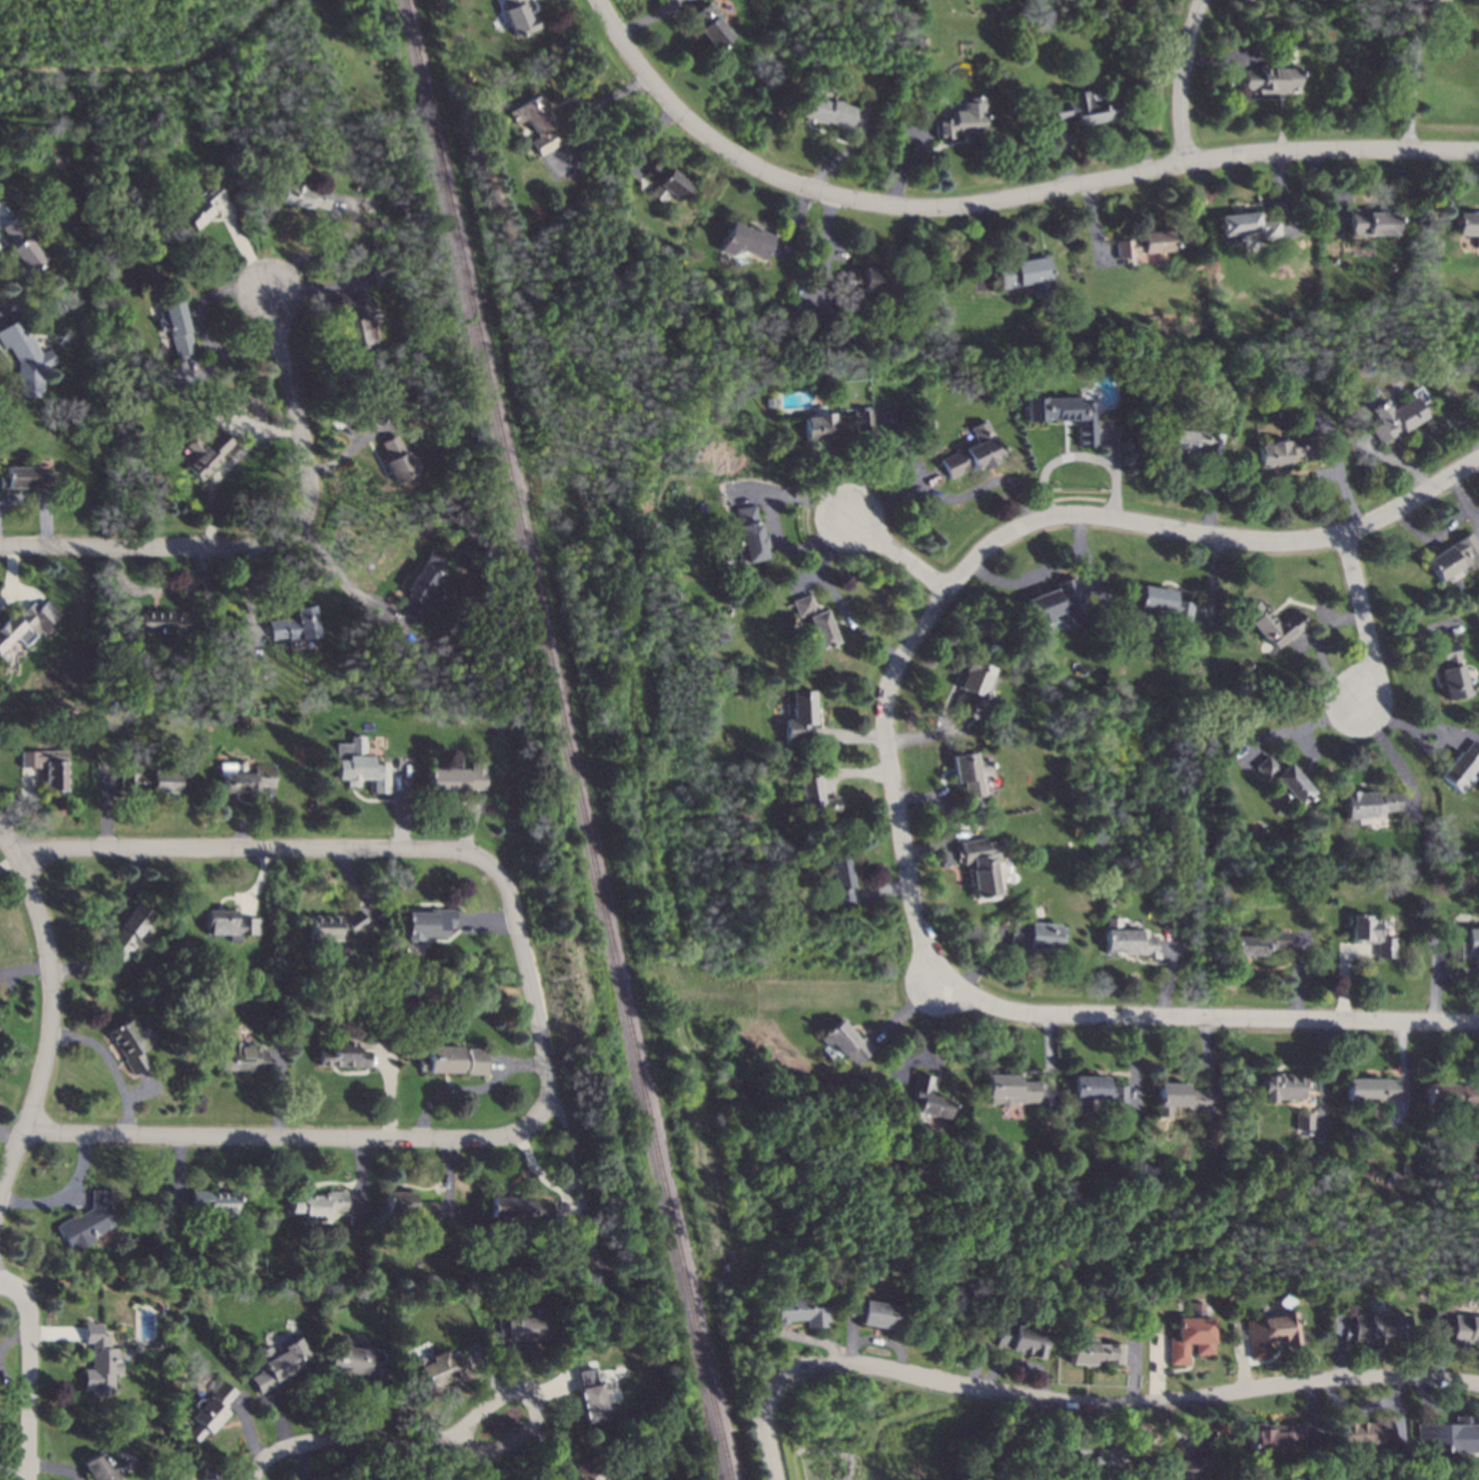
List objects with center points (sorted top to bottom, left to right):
building: (517, 16)
building: (709, 24)
road: (145, 68)
road: (1178, 79)
building: (1271, 79)
road: (1412, 79)
road: (598, 106)
building: (822, 107)
building: (1082, 108)
road: (680, 116)
building: (961, 118)
building: (535, 123)
road: (1138, 170)
building: (664, 181)
building: (304, 196)
building: (201, 203)
building: (1371, 222)
building: (1467, 225)
building: (1248, 228)
road: (345, 239)
building: (745, 240)
building: (1142, 243)
building: (22, 246)
building: (1026, 274)
building: (868, 280)
building: (360, 322)
building: (175, 325)
building: (25, 359)
building: (1064, 414)
building: (1396, 415)
building: (838, 422)
building: (1193, 440)
building: (1284, 451)
building: (972, 452)
road: (1078, 455)
building: (208, 456)
building: (402, 462)
road: (227, 468)
building: (26, 478)
road: (952, 501)
road: (772, 509)
road: (1206, 533)
building: (748, 534)
road: (273, 544)
building: (1454, 556)
road: (903, 558)
road: (1042, 572)
road: (340, 574)
road: (11, 578)
building: (421, 588)
road: (833, 597)
building: (1161, 602)
building: (1056, 604)
building: (814, 620)
building: (165, 621)
road: (1365, 622)
building: (27, 623)
building: (1272, 624)
building: (296, 630)
building: (1450, 670)
building: (971, 686)
building: (796, 716)
road: (1410, 722)
railway: (568, 740)
road: (1391, 754)
building: (1461, 764)
building: (359, 765)
building: (47, 766)
building: (969, 774)
building: (458, 778)
building: (1283, 778)
road: (888, 781)
building: (151, 782)
building: (815, 798)
building: (1368, 804)
building: (979, 865)
building: (838, 880)
building: (427, 922)
building: (229, 924)
building: (331, 925)
road: (109, 926)
building: (128, 933)
building: (1370, 934)
building: (1036, 936)
building: (1127, 939)
building: (1257, 943)
building: (1463, 943)
road: (1438, 982)
road: (53, 1010)
road: (533, 1010)
road: (1208, 1016)
road: (927, 1036)
building: (841, 1042)
building: (129, 1044)
building: (341, 1055)
building: (239, 1057)
building: (452, 1060)
road: (109, 1065)
road: (1404, 1075)
building: (1282, 1086)
building: (1371, 1088)
building: (1007, 1089)
building: (1095, 1092)
building: (1451, 1093)
building: (925, 1097)
building: (1177, 1097)
building: (1302, 1120)
road: (67, 1194)
building: (212, 1201)
building: (317, 1203)
building: (407, 1205)
building: (518, 1207)
building: (87, 1221)
building: (796, 1309)
building: (870, 1312)
building: (1379, 1327)
building: (524, 1328)
building: (1464, 1330)
building: (1272, 1331)
road: (55, 1333)
building: (1190, 1335)
road: (11, 1336)
road: (804, 1337)
road: (849, 1340)
building: (1020, 1340)
road: (883, 1342)
building: (158, 1344)
road: (1340, 1348)
road: (1440, 1348)
building: (1093, 1350)
road: (974, 1352)
road: (1238, 1360)
building: (100, 1362)
building: (361, 1362)
road: (1020, 1363)
building: (275, 1367)
road: (517, 1368)
building: (441, 1370)
road: (1155, 1370)
road: (1132, 1371)
road: (28, 1373)
road: (485, 1375)
road: (10, 1383)
road: (551, 1387)
building: (592, 1396)
road: (1074, 1403)
road: (534, 1406)
road: (1439, 1406)
road: (1395, 1407)
building: (212, 1409)
road: (1309, 1409)
road: (1351, 1409)
road: (375, 1412)
road: (279, 1419)
road: (1478, 1427)
road: (1171, 1428)
road: (248, 1430)
building: (1364, 1431)
road: (1140, 1436)
building: (1445, 1436)
building: (1272, 1438)
road: (333, 1439)
road: (1195, 1439)
road: (550, 1447)
building: (1098, 1456)
road: (301, 1461)
road: (441, 1461)
road: (479, 1465)
road: (56, 1466)
building: (1183, 1466)
building: (105, 1467)
road: (13, 1468)
building: (584, 1471)
building: (174, 1479)
building: (193, 1479)

